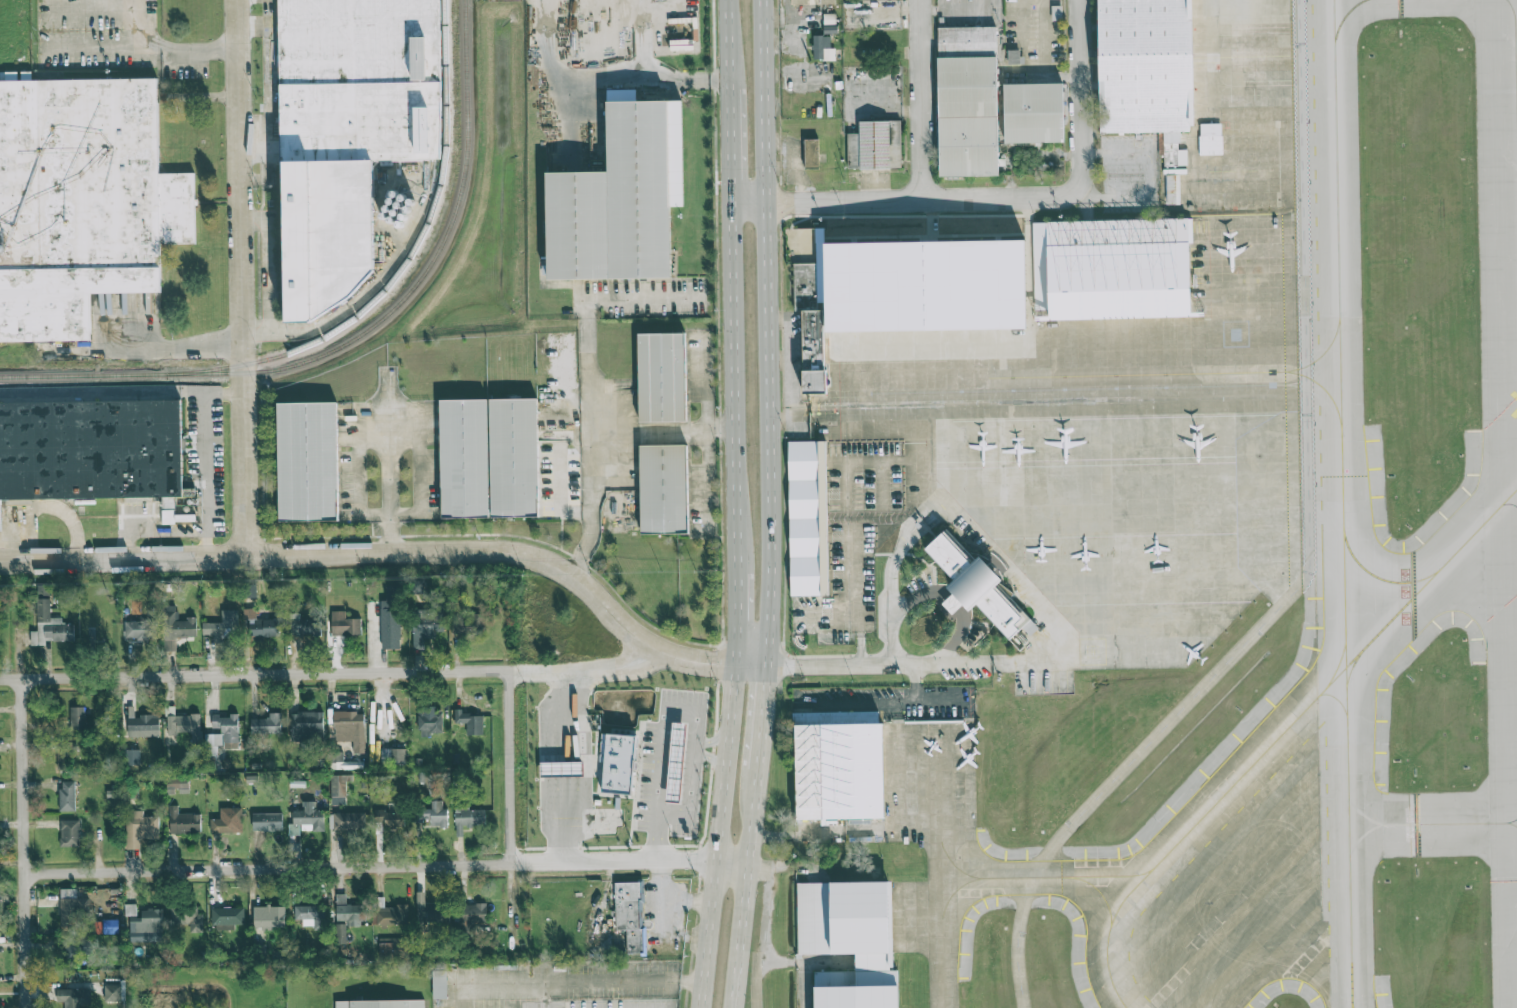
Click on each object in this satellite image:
building: (812, 2)
building: (1056, 12)
road: (253, 28)
building: (830, 28)
road: (728, 43)
road: (101, 45)
building: (822, 48)
road: (195, 49)
building: (1014, 56)
building: (1151, 67)
road: (643, 70)
road: (268, 74)
building: (363, 81)
road: (612, 83)
road: (1081, 91)
road: (923, 99)
building: (967, 101)
building: (1033, 113)
building: (1210, 136)
building: (875, 145)
road: (729, 146)
building: (811, 153)
road: (940, 198)
building: (621, 200)
building: (77, 202)
road: (762, 203)
railway: (409, 262)
building: (1119, 267)
building: (857, 276)
road: (243, 278)
road: (645, 299)
railway: (362, 334)
road: (766, 334)
road: (151, 349)
building: (663, 377)
road: (731, 382)
airport apron: (1114, 394)
railway: (88, 395)
road: (719, 428)
road: (706, 431)
road: (647, 435)
road: (589, 439)
building: (94, 446)
road: (205, 458)
building: (491, 458)
road: (389, 461)
building: (310, 462)
building: (666, 489)
road: (558, 495)
airport taxiway: (1342, 504)
road: (58, 509)
building: (173, 512)
road: (421, 512)
road: (153, 528)
building: (815, 535)
road: (561, 539)
airport: (1168, 545)
road: (385, 554)
airport taxiway: (1378, 576)
building: (980, 590)
building: (250, 591)
road: (946, 594)
road: (954, 601)
road: (734, 613)
road: (895, 616)
building: (390, 619)
building: (50, 622)
building: (427, 623)
building: (345, 624)
building: (468, 624)
building: (264, 625)
building: (304, 626)
building: (175, 627)
building: (223, 627)
building: (140, 629)
road: (954, 642)
road: (629, 654)
road: (1046, 662)
road: (862, 663)
airport taxiway: (1337, 665)
road: (604, 666)
airport taxiway: (1351, 669)
road: (645, 670)
road: (606, 671)
road: (297, 675)
road: (878, 697)
road: (941, 697)
airport taxiway: (1335, 697)
road: (669, 714)
road: (565, 715)
building: (77, 718)
road: (763, 720)
building: (430, 721)
building: (471, 722)
building: (267, 724)
building: (185, 725)
building: (143, 726)
building: (306, 726)
building: (228, 729)
building: (350, 729)
airport taxiway: (1279, 735)
road: (666, 736)
road: (678, 738)
road: (689, 739)
road: (715, 740)
building: (212, 744)
road: (664, 754)
road: (676, 755)
building: (393, 756)
road: (687, 756)
road: (714, 760)
building: (675, 762)
building: (618, 763)
road: (1124, 765)
road: (513, 768)
road: (565, 768)
road: (662, 771)
road: (675, 771)
road: (686, 772)
building: (846, 775)
airport apron: (924, 783)
building: (177, 785)
road: (661, 785)
road: (674, 786)
road: (685, 787)
building: (338, 790)
building: (67, 796)
building: (431, 815)
road: (24, 817)
building: (390, 818)
building: (307, 819)
building: (468, 819)
road: (565, 820)
building: (183, 821)
building: (227, 821)
building: (349, 821)
building: (267, 822)
airport taxiway: (1413, 823)
building: (69, 833)
airport taxiway: (1361, 836)
road: (725, 837)
road: (717, 862)
airport taxiway: (957, 867)
road: (356, 868)
airport taxiway: (1036, 876)
road: (744, 889)
airport taxiway: (1099, 891)
building: (72, 907)
building: (430, 911)
building: (349, 912)
building: (388, 913)
building: (227, 915)
building: (309, 915)
building: (630, 915)
building: (471, 916)
building: (269, 917)
building: (187, 919)
building: (144, 920)
road: (764, 926)
airport taxiway: (945, 926)
building: (340, 933)
building: (857, 942)
building: (75, 947)
building: (393, 947)
road: (617, 981)
building: (439, 984)
road: (485, 984)
building: (112, 992)
building: (73, 997)
airport taxiway: (1352, 1002)
building: (386, 1004)

